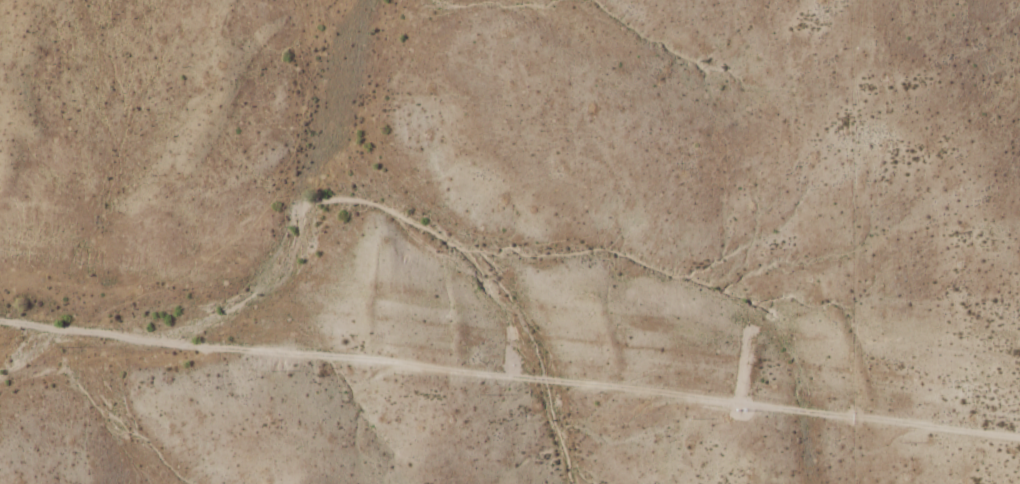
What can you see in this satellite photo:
road: (509, 368)

